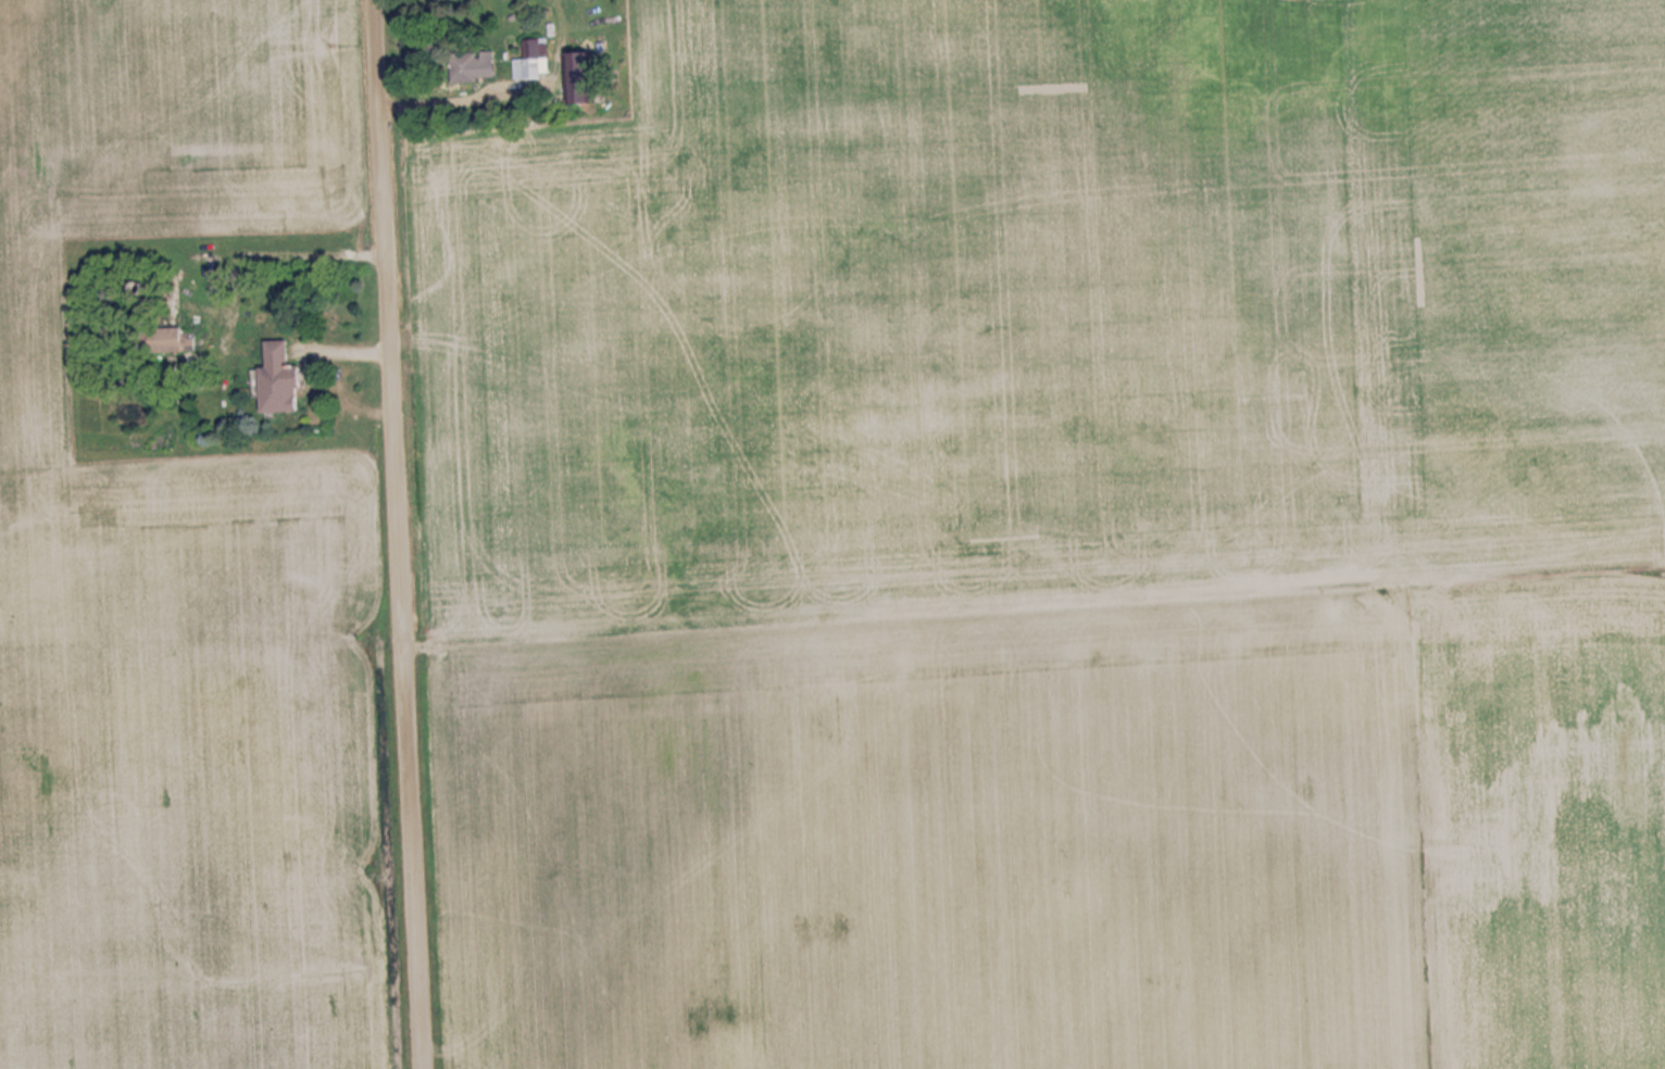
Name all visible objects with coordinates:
building: (538, 58)
building: (467, 67)
building: (587, 77)
building: (168, 340)
building: (286, 381)
road: (392, 534)

